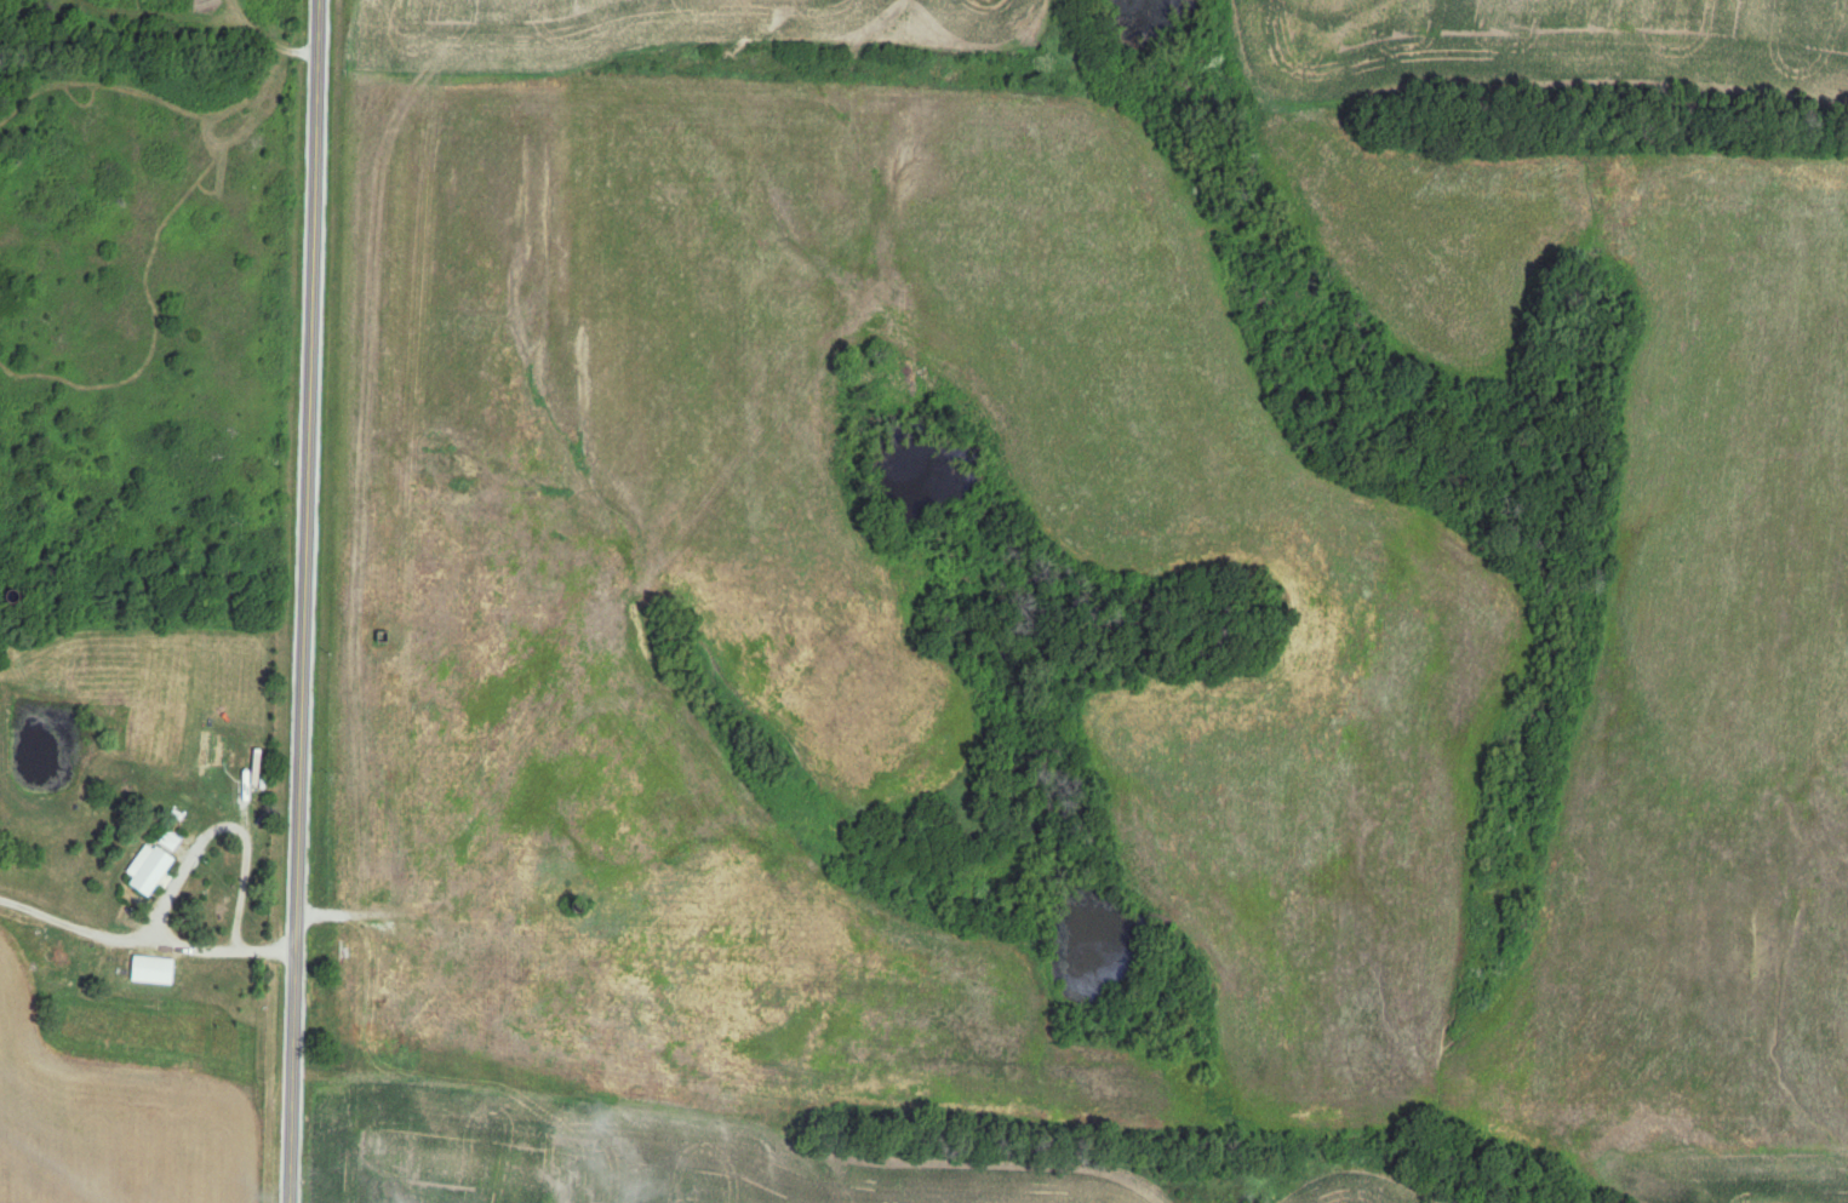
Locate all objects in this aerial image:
road: (313, 601)
building: (149, 867)
road: (149, 938)
building: (151, 969)

